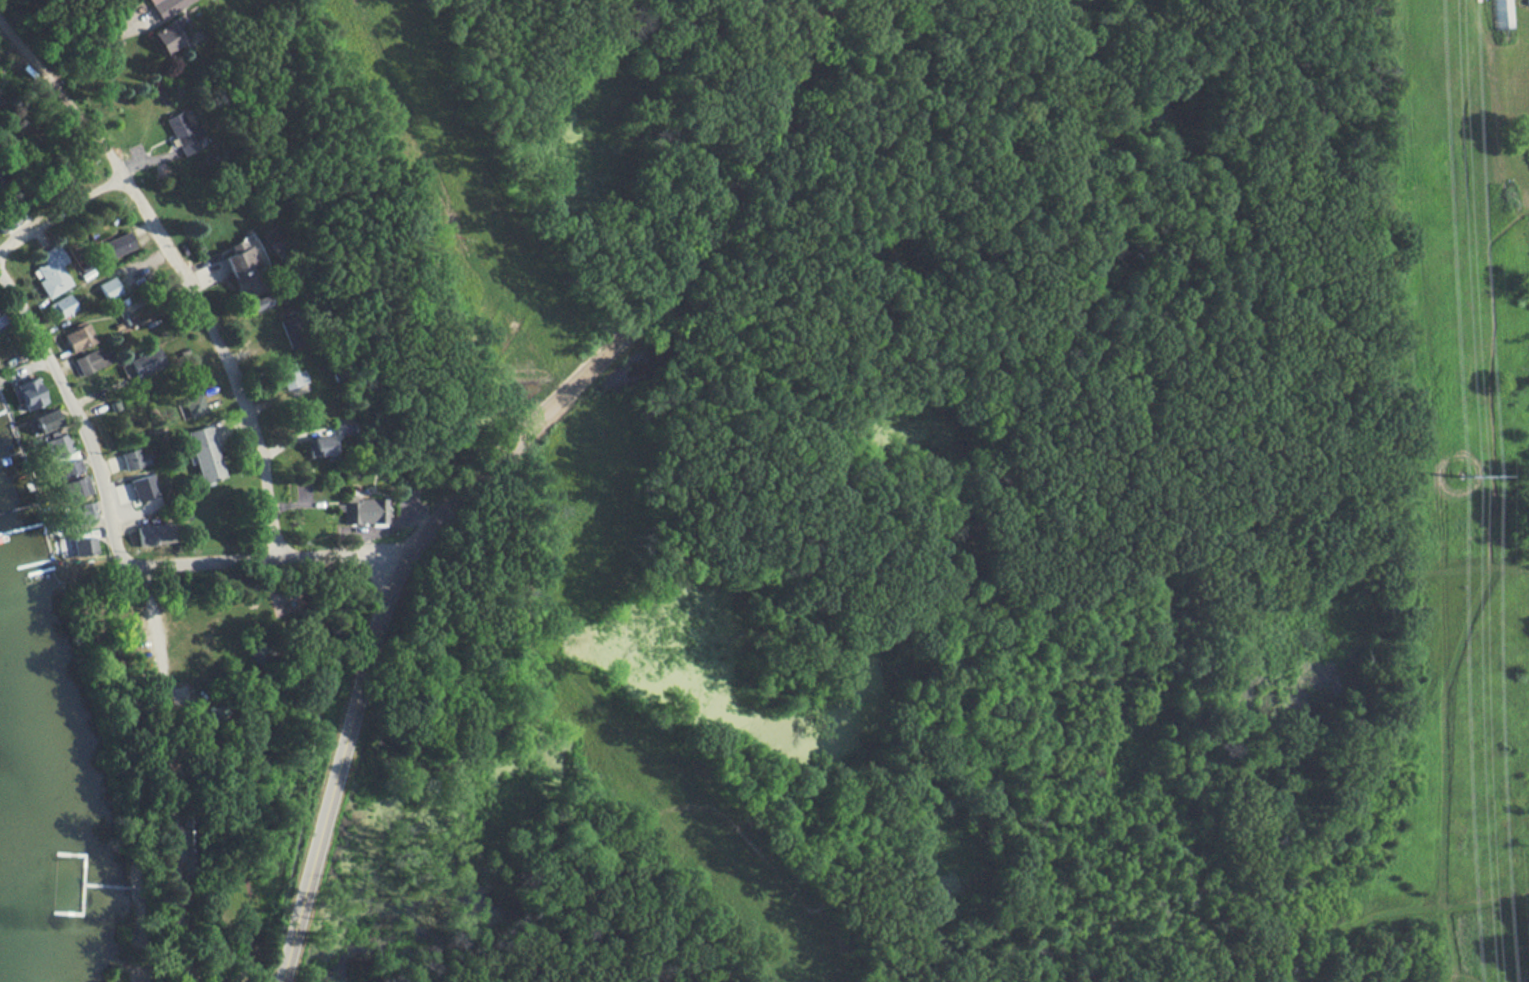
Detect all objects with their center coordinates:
building: (167, 6)
building: (1501, 14)
building: (164, 40)
building: (0, 106)
building: (184, 132)
road: (64, 216)
building: (10, 218)
building: (115, 245)
building: (240, 261)
road: (179, 267)
building: (48, 279)
building: (110, 288)
building: (260, 303)
building: (61, 306)
road: (653, 308)
building: (0, 323)
building: (290, 332)
building: (77, 338)
building: (91, 362)
building: (144, 363)
building: (289, 376)
building: (29, 400)
building: (192, 405)
road: (79, 419)
building: (40, 421)
building: (342, 429)
building: (317, 443)
building: (55, 446)
building: (201, 453)
building: (135, 458)
power tower: (1460, 478)
building: (143, 487)
building: (76, 488)
building: (158, 488)
building: (303, 496)
building: (361, 510)
building: (78, 512)
building: (146, 534)
building: (80, 544)
road: (270, 557)
building: (263, 654)
building: (179, 696)
road: (339, 767)
building: (185, 845)

